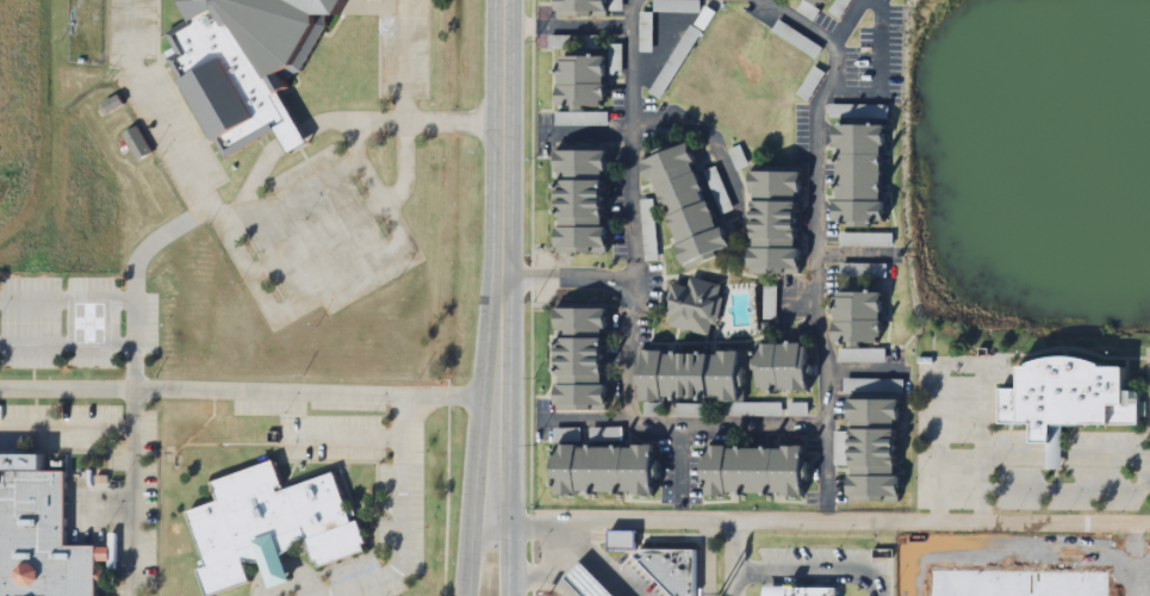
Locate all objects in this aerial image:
road: (765, 0)
building: (821, 2)
building: (584, 7)
road: (590, 26)
road: (879, 39)
road: (659, 55)
building: (248, 63)
building: (584, 82)
road: (425, 126)
road: (700, 130)
road: (586, 131)
building: (137, 144)
road: (352, 147)
building: (866, 176)
road: (399, 182)
building: (584, 201)
building: (689, 205)
building: (778, 223)
road: (852, 255)
road: (499, 256)
road: (240, 269)
road: (564, 279)
road: (66, 296)
road: (797, 303)
building: (694, 306)
building: (860, 319)
helipad: (88, 324)
road: (64, 352)
building: (583, 358)
building: (785, 367)
road: (864, 370)
building: (691, 375)
building: (1073, 381)
road: (132, 383)
road: (247, 392)
road: (584, 417)
road: (66, 424)
road: (747, 424)
building: (876, 451)
road: (682, 460)
road: (823, 461)
building: (605, 471)
building: (757, 472)
road: (399, 514)
road: (819, 519)
building: (42, 524)
building: (272, 526)
building: (620, 541)
road: (506, 551)
road: (473, 552)
building: (676, 569)
building: (591, 582)
gas station: (591, 582)
building: (801, 585)
road: (468, 591)

